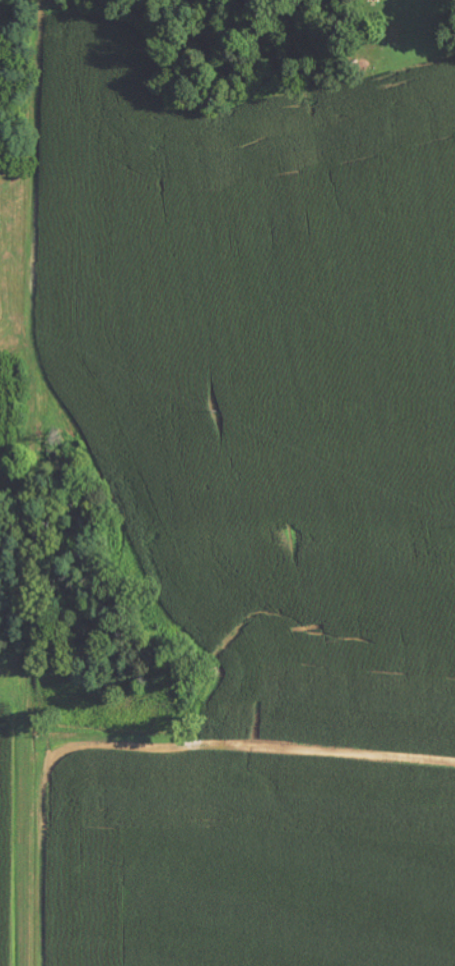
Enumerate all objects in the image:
road: (33, 184)

